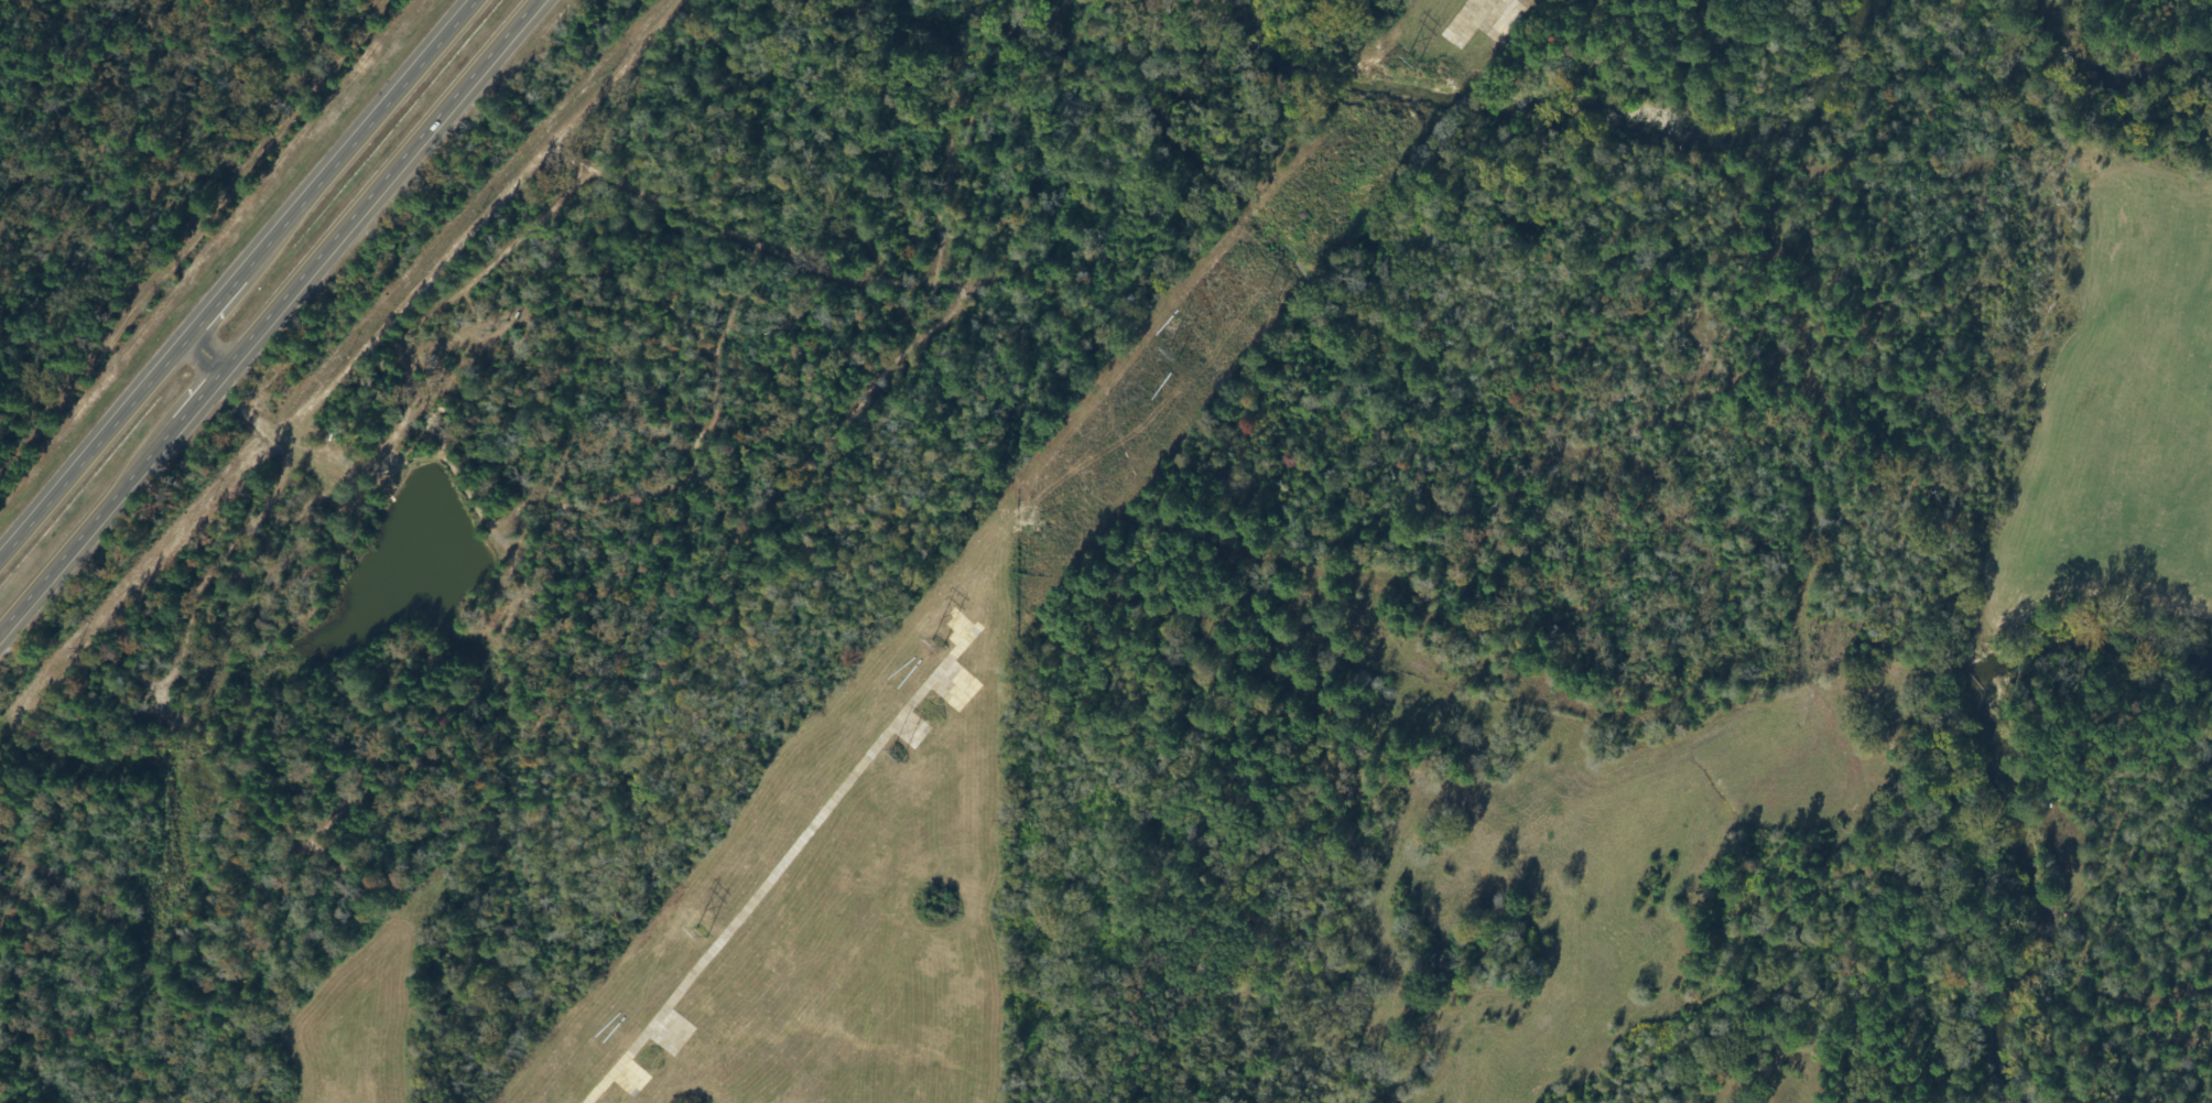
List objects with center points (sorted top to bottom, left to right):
power tower: (1402, 56)
road: (369, 125)
road: (378, 183)
power tower: (1264, 286)
road: (226, 293)
power tower: (1165, 344)
road: (207, 352)
road: (188, 408)
road: (94, 447)
road: (75, 539)
power tower: (930, 639)
power tower: (896, 751)
power tower: (695, 922)

